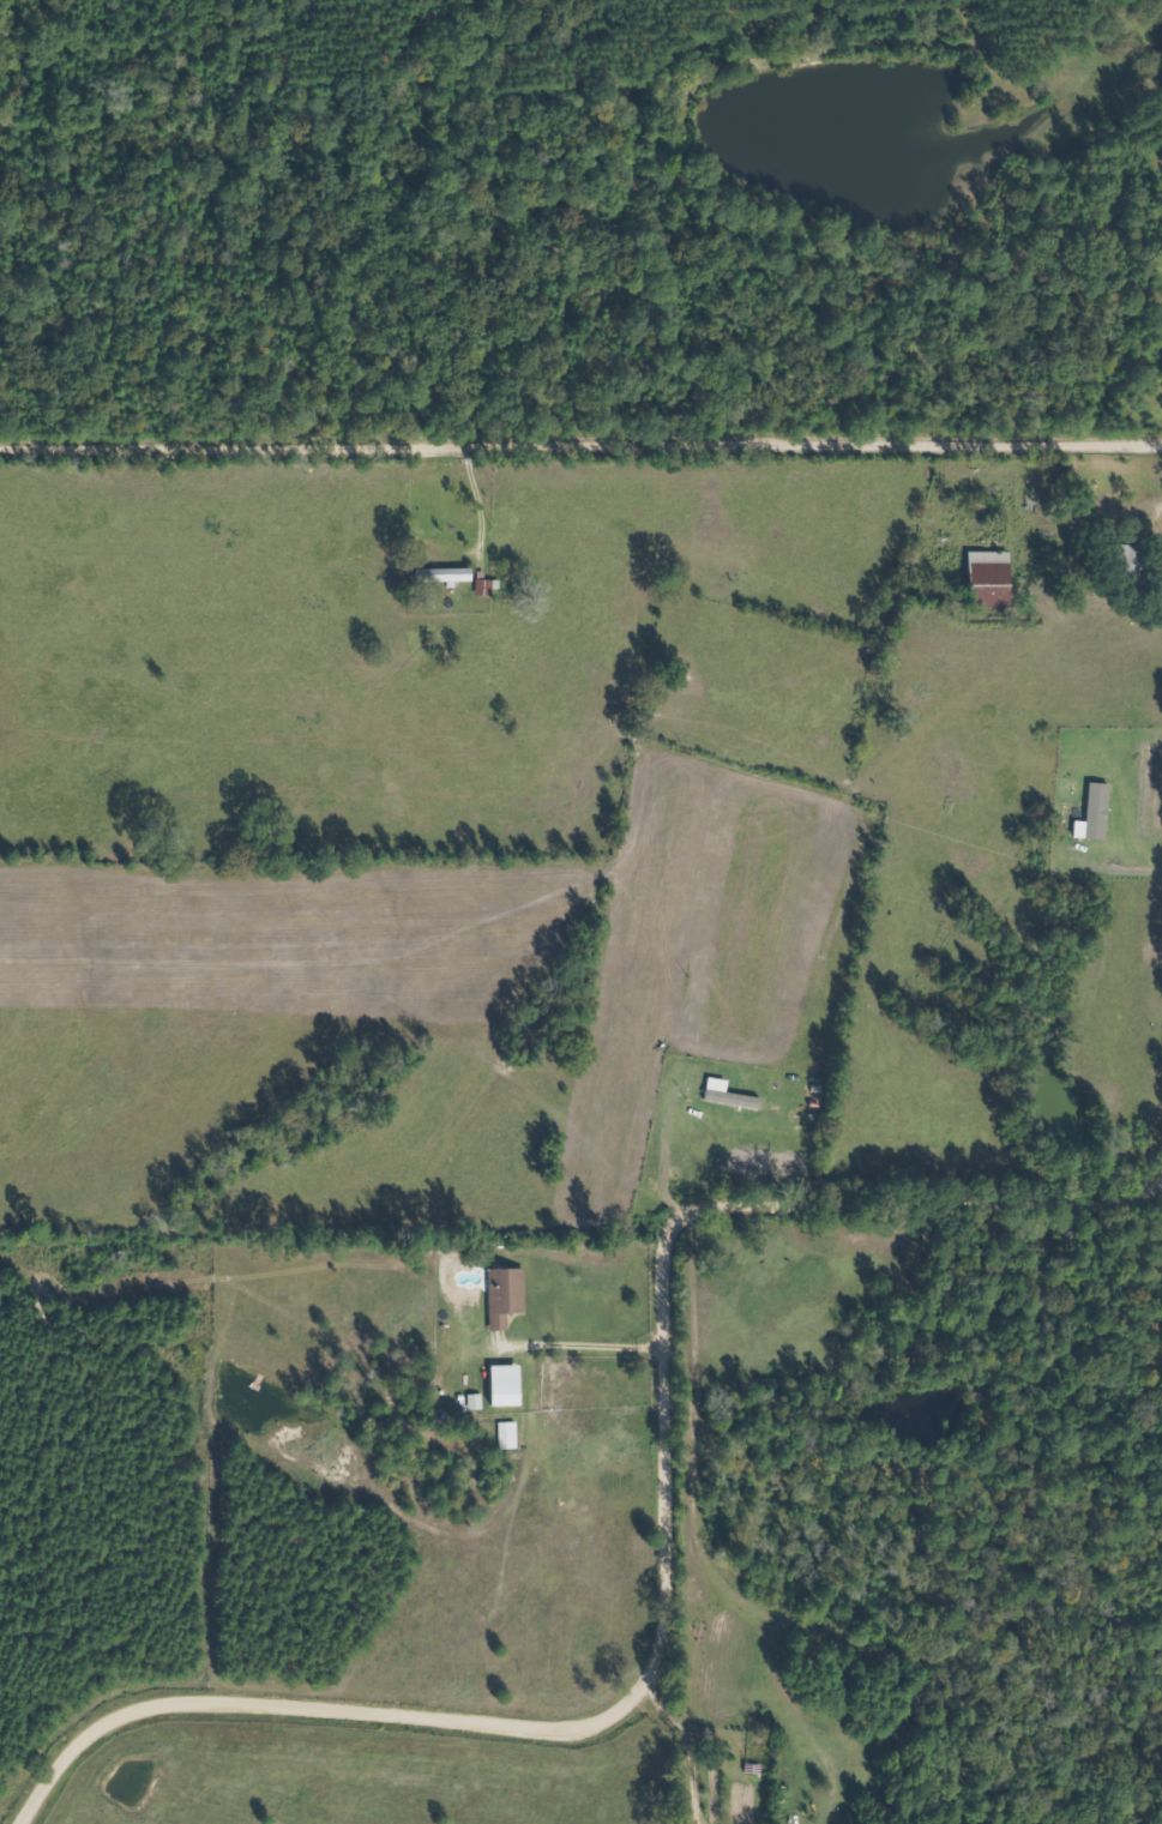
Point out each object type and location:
road: (580, 443)
building: (446, 576)
building: (994, 579)
building: (488, 588)
building: (1101, 811)
building: (731, 1095)
building: (508, 1295)
building: (508, 1385)
building: (511, 1435)
road: (666, 1555)

